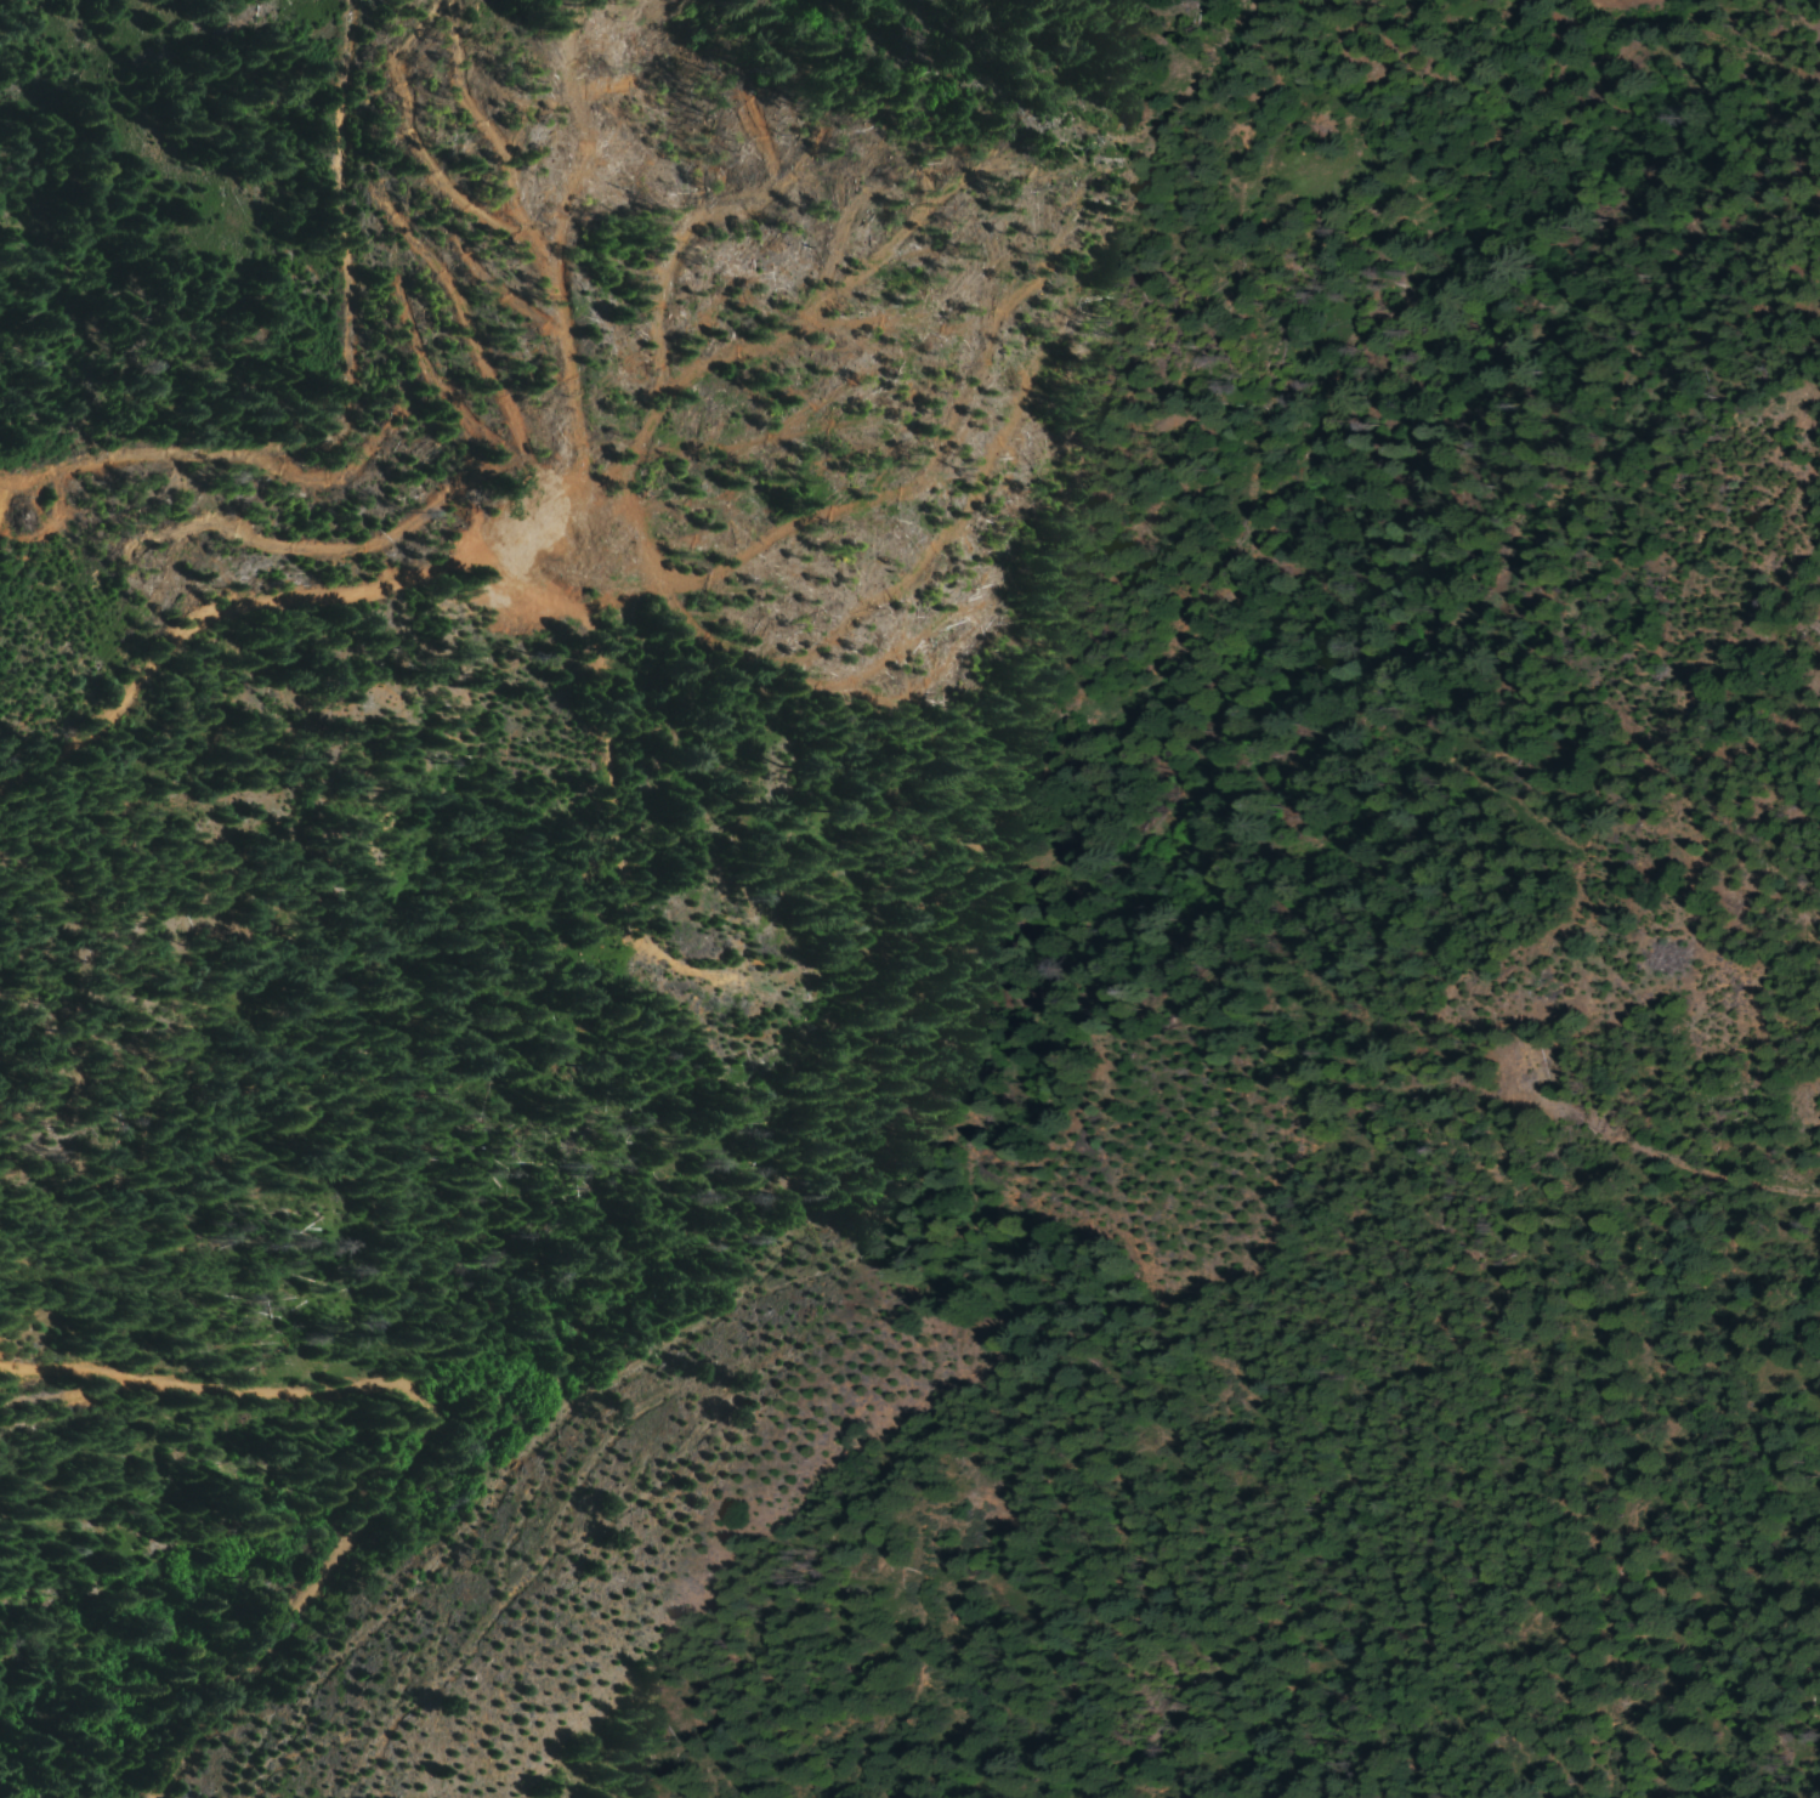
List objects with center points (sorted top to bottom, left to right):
road: (559, 597)
road: (1576, 665)
road: (409, 1445)

